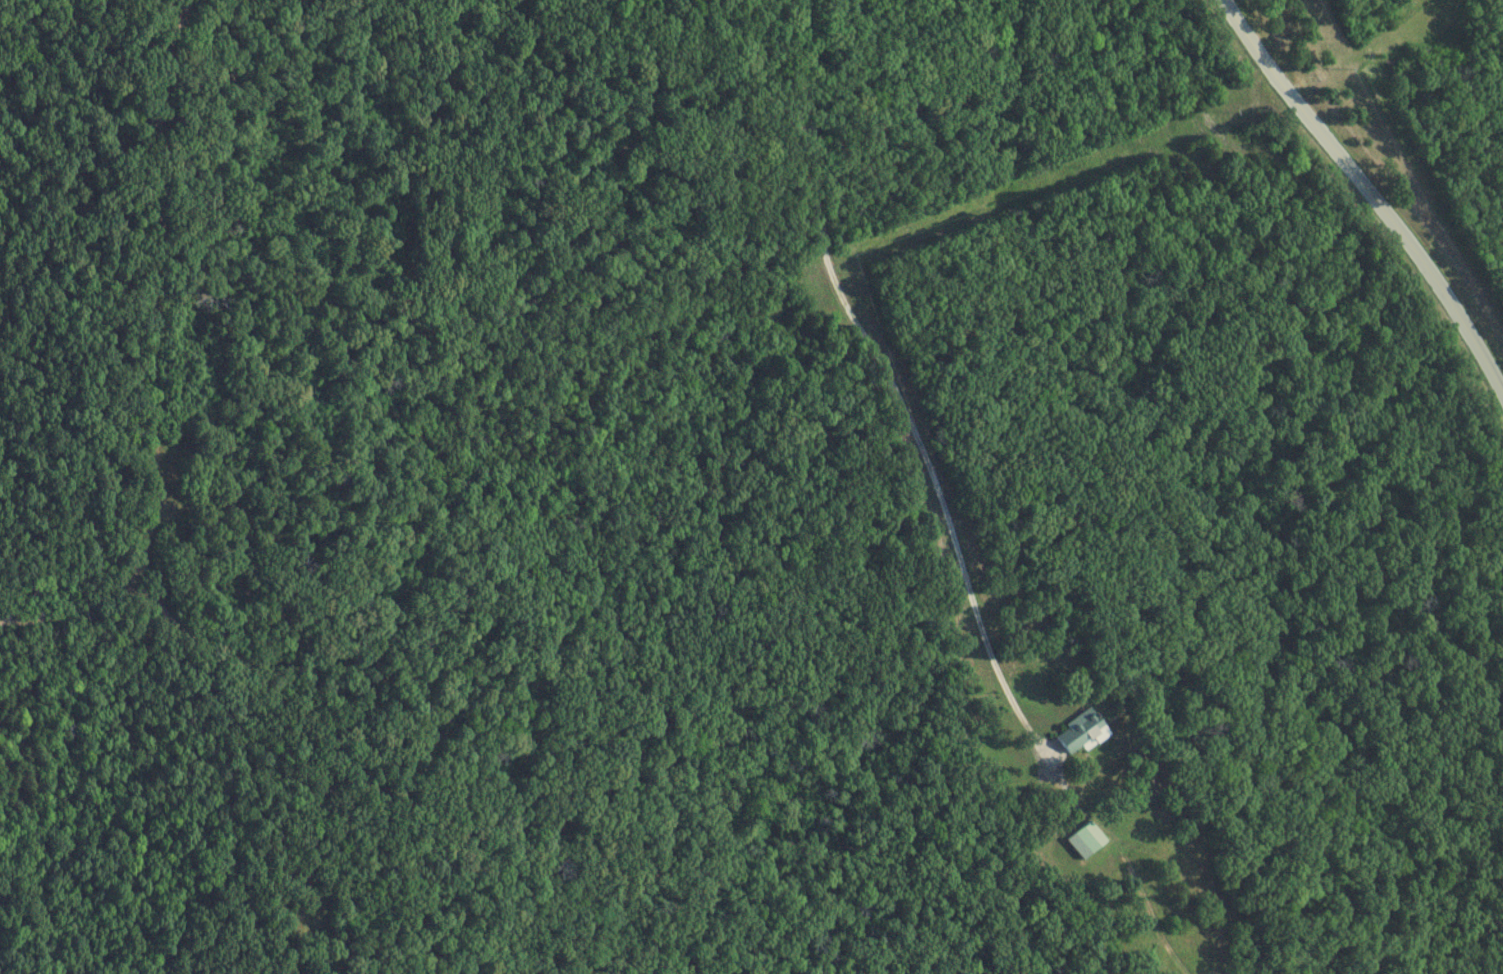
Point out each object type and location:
road: (1371, 189)
road: (153, 358)
road: (897, 388)
building: (1082, 733)
building: (1089, 840)

